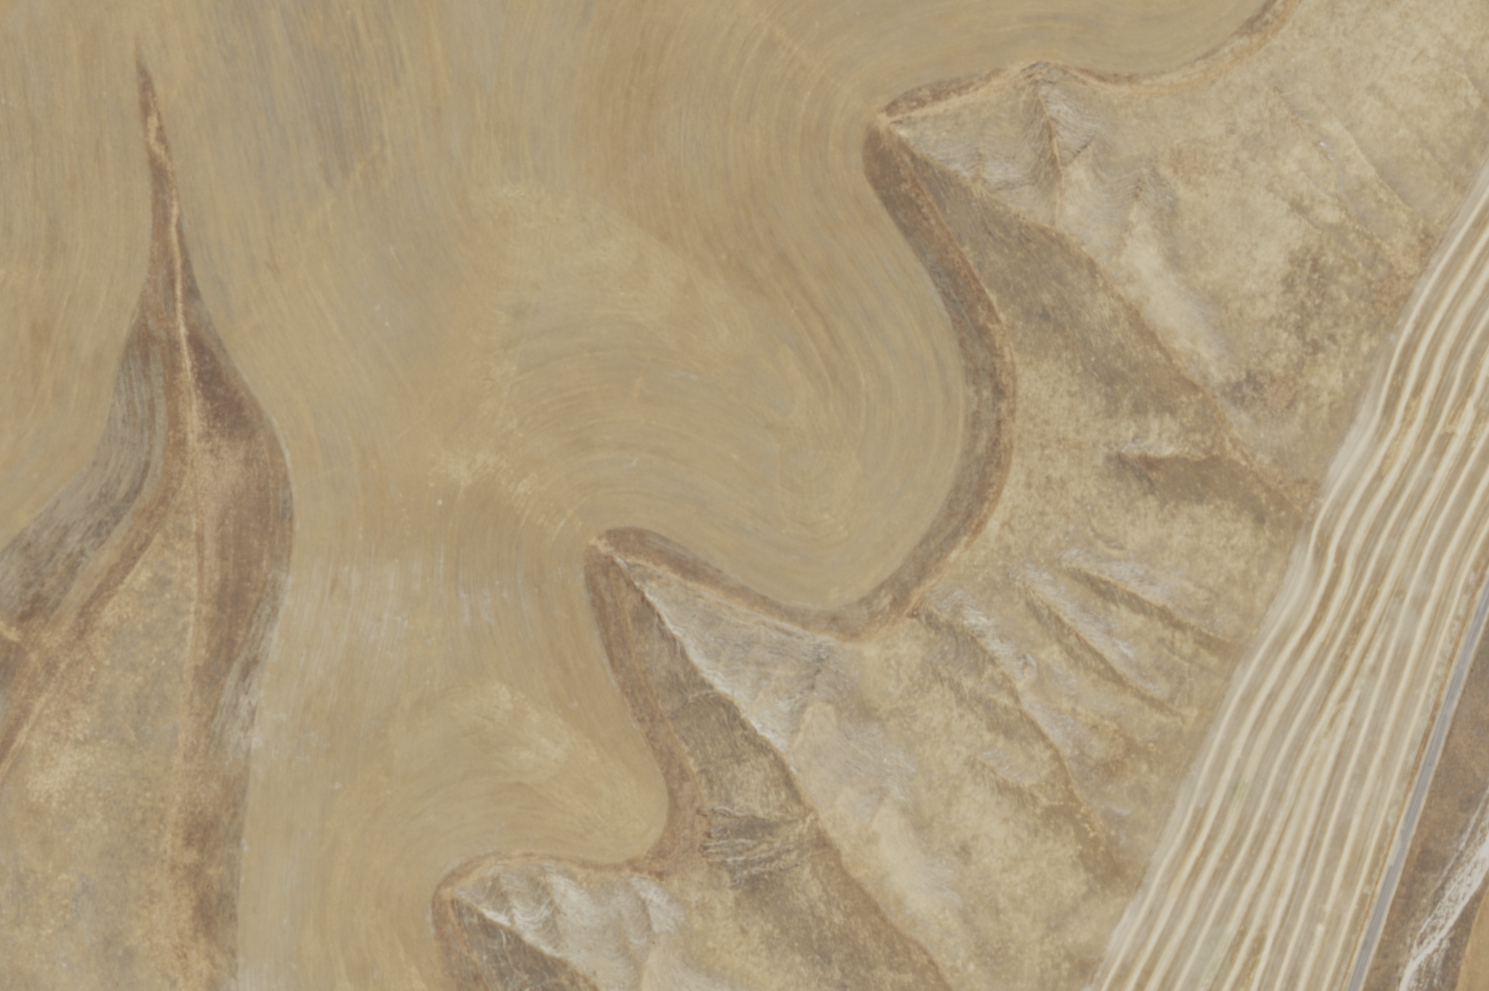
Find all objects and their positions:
road: (1419, 784)

